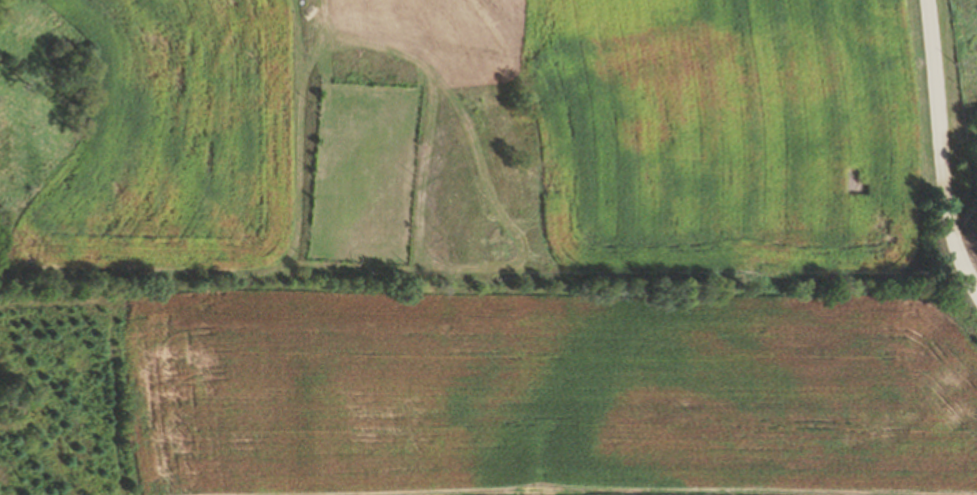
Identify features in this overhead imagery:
road: (943, 149)

